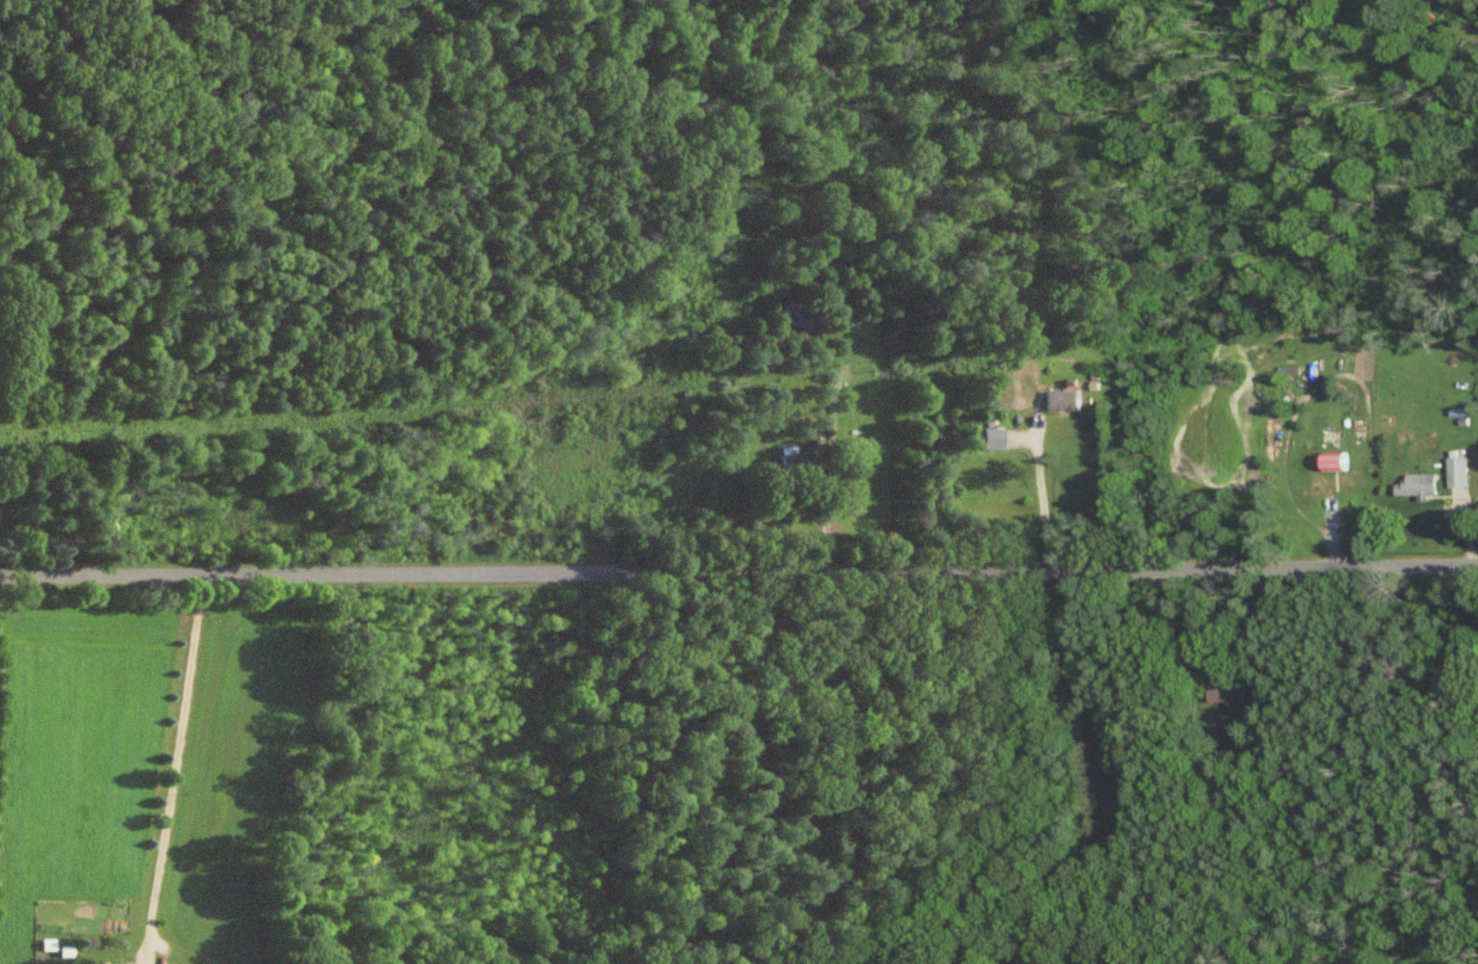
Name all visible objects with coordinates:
building: (1290, 373)
building: (1060, 402)
road: (890, 453)
building: (793, 464)
building: (1334, 464)
building: (1459, 474)
building: (1417, 487)
road: (1042, 497)
road: (739, 574)
road: (1263, 632)
building: (1226, 691)
road: (172, 762)
road: (839, 765)
road: (1083, 776)
building: (1080, 961)

